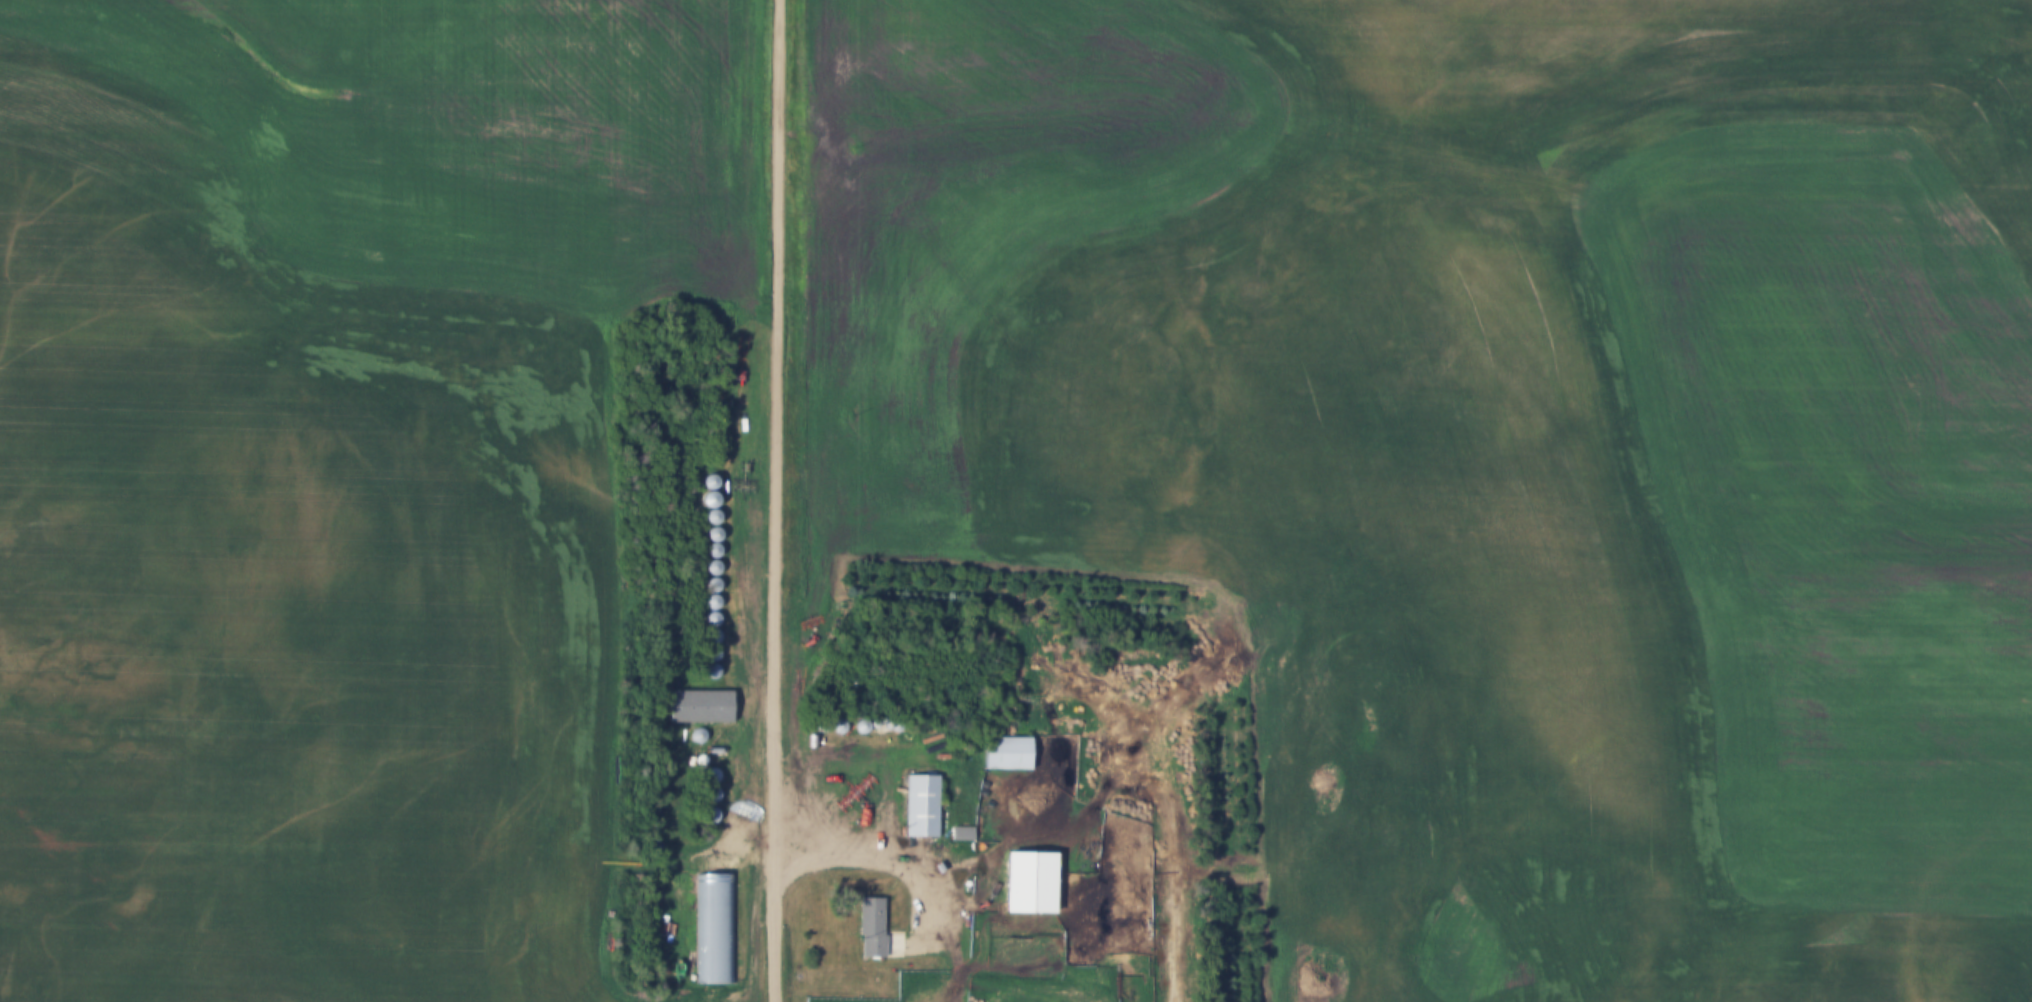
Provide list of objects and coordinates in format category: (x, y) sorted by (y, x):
building: (712, 485)
road: (776, 500)
building: (711, 503)
building: (714, 520)
building: (715, 538)
building: (715, 554)
building: (700, 709)
building: (1008, 755)
building: (923, 808)
building: (964, 836)
road: (884, 849)
building: (1029, 886)
building: (717, 929)
building: (872, 929)

